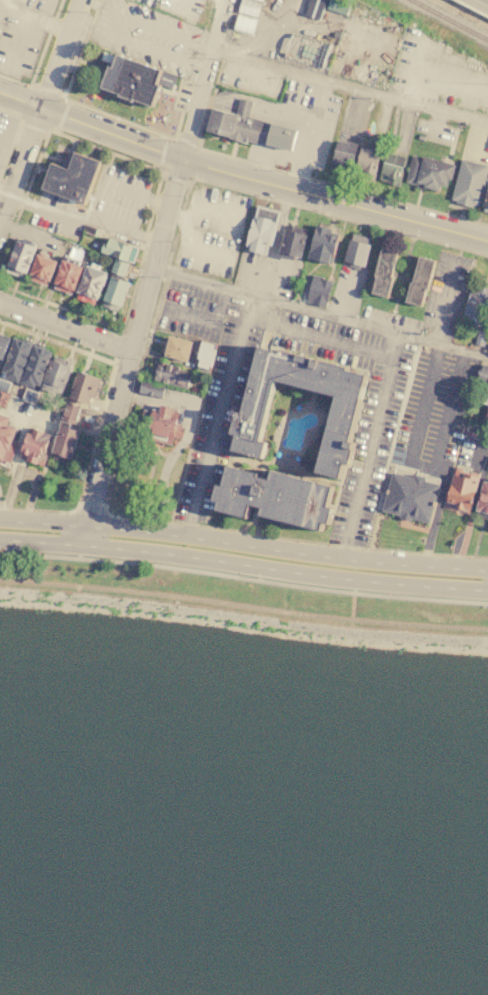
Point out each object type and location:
building: (259, 1)
building: (341, 6)
road: (176, 7)
building: (250, 8)
building: (316, 8)
parking lot: (184, 9)
road: (33, 18)
railway: (452, 19)
building: (246, 25)
road: (107, 31)
parking lot: (24, 35)
parking lot: (145, 35)
road: (17, 43)
road: (81, 49)
building: (307, 51)
parking lot: (431, 73)
road: (15, 80)
building: (136, 81)
road: (338, 82)
road: (450, 83)
road: (44, 88)
road: (38, 107)
road: (62, 116)
building: (239, 124)
road: (277, 124)
road: (33, 127)
road: (147, 130)
road: (118, 135)
road: (14, 137)
road: (186, 142)
road: (161, 153)
building: (345, 157)
building: (368, 163)
road: (268, 166)
building: (392, 170)
building: (430, 172)
road: (179, 175)
road: (175, 178)
building: (73, 179)
building: (470, 183)
road: (158, 184)
road: (119, 185)
building: (486, 205)
road: (362, 207)
road: (335, 214)
road: (85, 215)
building: (263, 231)
parking lot: (212, 233)
building: (294, 243)
building: (323, 246)
building: (119, 249)
building: (357, 254)
building: (21, 259)
building: (119, 268)
building: (42, 271)
building: (384, 273)
building: (68, 278)
building: (421, 282)
building: (91, 286)
building: (319, 290)
building: (116, 291)
road: (446, 300)
building: (477, 309)
road: (321, 312)
road: (199, 320)
road: (66, 325)
road: (320, 336)
building: (480, 337)
building: (3, 346)
road: (119, 346)
road: (145, 348)
building: (179, 350)
building: (205, 358)
building: (17, 361)
building: (36, 368)
building: (483, 374)
building: (173, 376)
building: (56, 380)
building: (4, 386)
building: (84, 389)
building: (152, 390)
building: (487, 391)
parking lot: (225, 393)
building: (29, 396)
building: (4, 400)
building: (70, 414)
road: (101, 414)
building: (485, 414)
parking lot: (439, 416)
road: (219, 417)
building: (162, 427)
road: (109, 438)
road: (186, 439)
building: (6, 440)
building: (338, 442)
building: (65, 446)
road: (370, 446)
building: (36, 448)
road: (423, 465)
building: (487, 468)
road: (24, 473)
building: (463, 493)
building: (411, 498)
building: (484, 501)
road: (91, 511)
road: (43, 523)
road: (83, 536)
road: (296, 540)
road: (286, 551)
street lamp: (129, 560)
road: (243, 567)
street lamp: (258, 577)
road: (243, 579)
street lamp: (389, 593)
road: (243, 607)
river: (243, 870)

